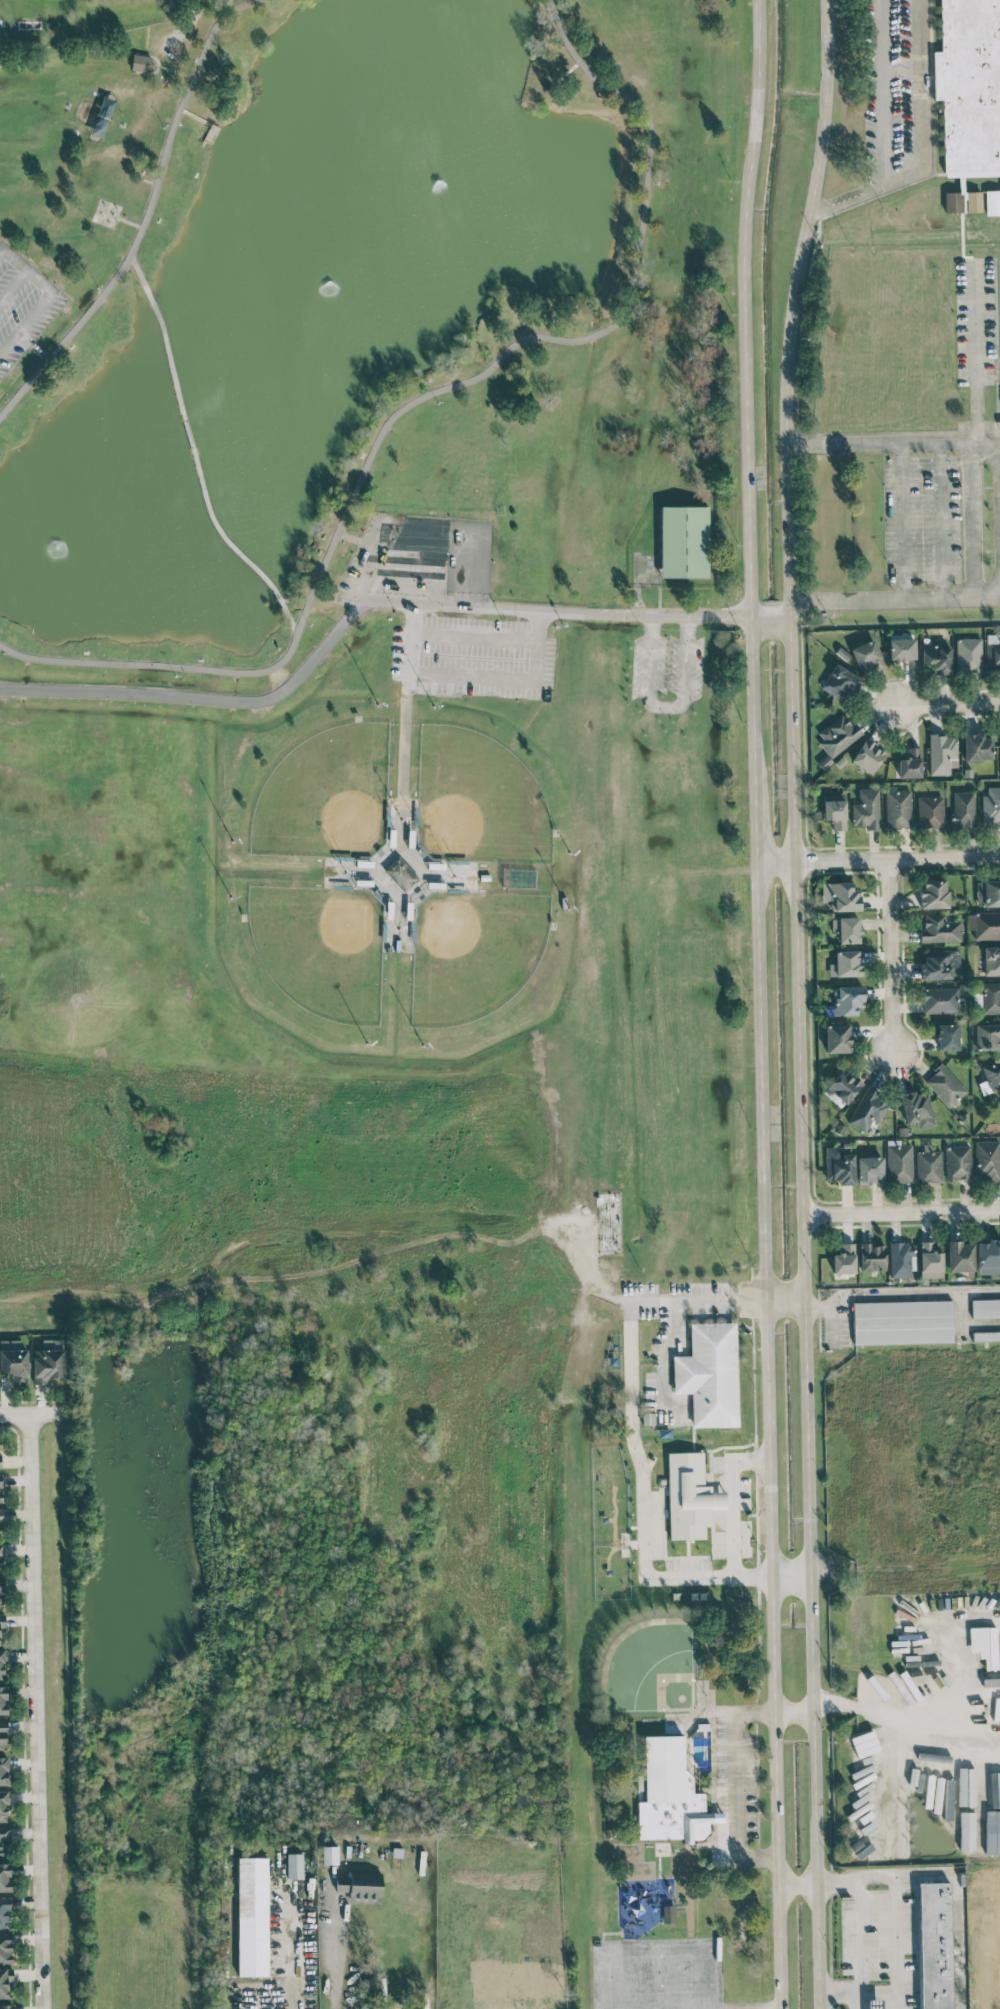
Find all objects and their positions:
road: (229, 4)
road: (191, 15)
road: (159, 46)
building: (140, 62)
road: (156, 66)
road: (175, 71)
building: (969, 84)
road: (882, 92)
road: (193, 116)
road: (922, 142)
building: (973, 201)
building: (953, 202)
road: (144, 215)
road: (128, 221)
road: (12, 257)
road: (137, 271)
road: (13, 285)
parking lot: (22, 305)
road: (37, 310)
parking lot: (974, 320)
road: (973, 348)
road: (39, 350)
road: (419, 397)
building: (999, 424)
road: (958, 441)
road: (843, 445)
road: (194, 460)
road: (970, 519)
parking lot: (931, 520)
road: (939, 520)
road: (903, 521)
road: (431, 536)
road: (358, 540)
building: (684, 541)
road: (372, 567)
road: (404, 570)
road: (438, 571)
road: (472, 572)
road: (894, 600)
road: (554, 611)
road: (290, 620)
road: (769, 621)
road: (473, 636)
building: (901, 648)
building: (992, 653)
building: (968, 654)
building: (866, 655)
building: (936, 658)
park: (364, 663)
road: (408, 663)
road: (505, 677)
building: (839, 682)
road: (201, 698)
road: (949, 703)
road: (663, 705)
building: (837, 735)
building: (977, 747)
building: (941, 753)
building: (867, 756)
building: (910, 763)
park: (325, 794)
park: (477, 800)
building: (991, 807)
building: (898, 808)
building: (866, 809)
building: (963, 809)
building: (930, 812)
building: (835, 813)
road: (878, 858)
building: (401, 873)
building: (987, 893)
building: (933, 894)
building: (840, 896)
building: (984, 925)
building: (846, 929)
building: (939, 929)
park: (321, 948)
park: (472, 951)
road: (890, 953)
building: (992, 960)
building: (939, 963)
building: (845, 964)
building: (990, 997)
building: (847, 999)
building: (939, 1000)
road: (798, 1003)
road: (759, 1004)
building: (948, 1036)
building: (985, 1036)
building: (837, 1038)
building: (990, 1077)
building: (945, 1085)
building: (844, 1086)
building: (917, 1108)
building: (868, 1109)
building: (987, 1160)
building: (899, 1162)
building: (958, 1162)
building: (928, 1165)
building: (839, 1166)
building: (870, 1169)
road: (901, 1211)
road: (343, 1234)
building: (960, 1256)
building: (872, 1257)
building: (988, 1257)
building: (844, 1259)
building: (901, 1259)
building: (930, 1260)
road: (912, 1298)
road: (722, 1299)
road: (785, 1299)
building: (985, 1308)
road: (830, 1313)
building: (903, 1322)
building: (986, 1335)
road: (627, 1355)
building: (14, 1361)
building: (48, 1361)
building: (709, 1374)
road: (327, 1410)
road: (13, 1414)
building: (0, 1461)
building: (0, 1488)
building: (689, 1496)
road: (732, 1506)
building: (1, 1550)
road: (644, 1575)
building: (2, 1585)
building: (2, 1624)
building: (0, 1643)
building: (984, 1645)
building: (906, 1649)
building: (2, 1662)
building: (992, 1678)
road: (962, 1682)
building: (3, 1701)
road: (33, 1711)
road: (725, 1713)
road: (794, 1713)
road: (904, 1733)
building: (2, 1735)
building: (3, 1770)
building: (922, 1772)
building: (941, 1779)
building: (968, 1789)
building: (670, 1794)
building: (999, 1795)
building: (3, 1805)
road: (741, 1805)
building: (966, 1831)
building: (989, 1833)
building: (4, 1835)
building: (329, 1854)
building: (294, 1865)
road: (857, 1875)
building: (5, 1877)
road: (798, 1885)
building: (361, 1887)
road: (958, 1912)
building: (4, 1913)
building: (668, 1914)
building: (252, 1916)
road: (858, 1931)
road: (895, 1941)
building: (935, 1945)
building: (5, 1947)
road: (187, 1950)
road: (291, 1956)
road: (335, 1961)
building: (5, 1981)
road: (850, 1987)
building: (873, 2004)
building: (6, 2006)
road: (703, 2007)

